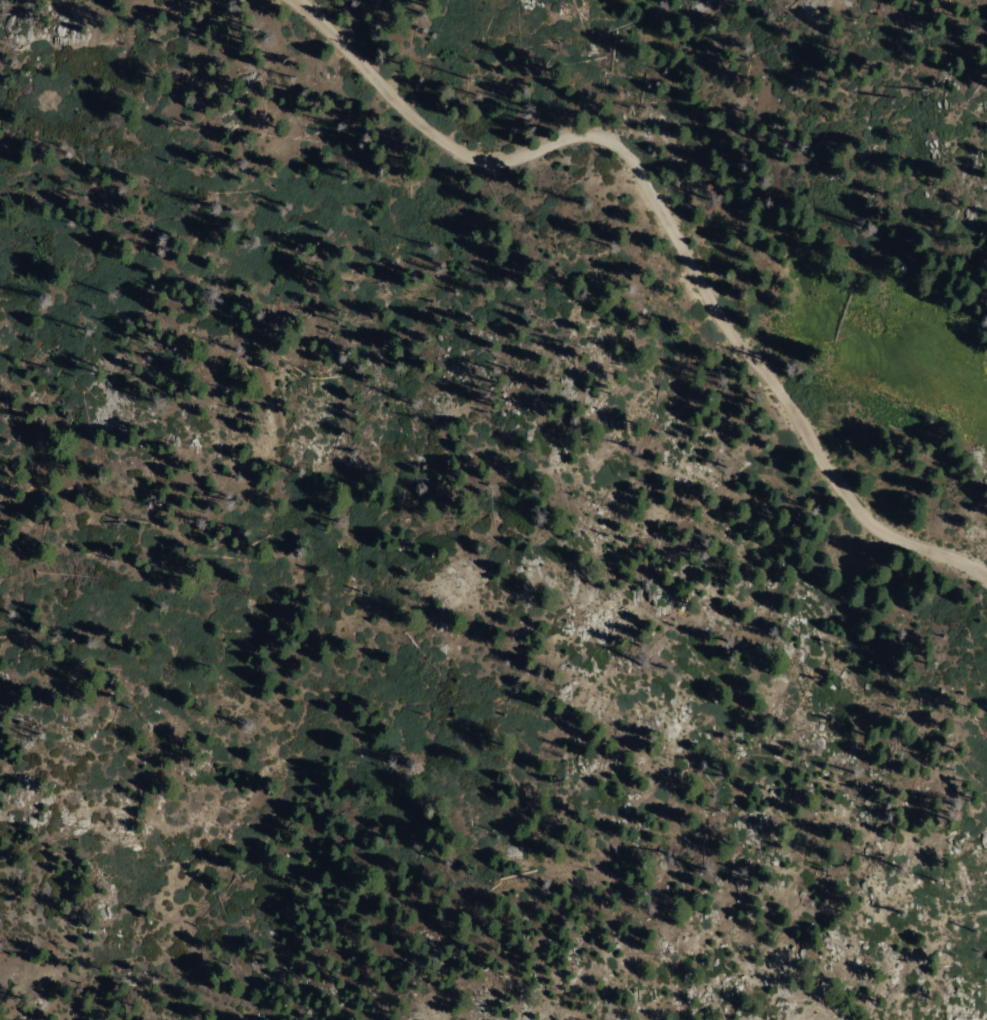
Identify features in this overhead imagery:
road: (679, 225)

